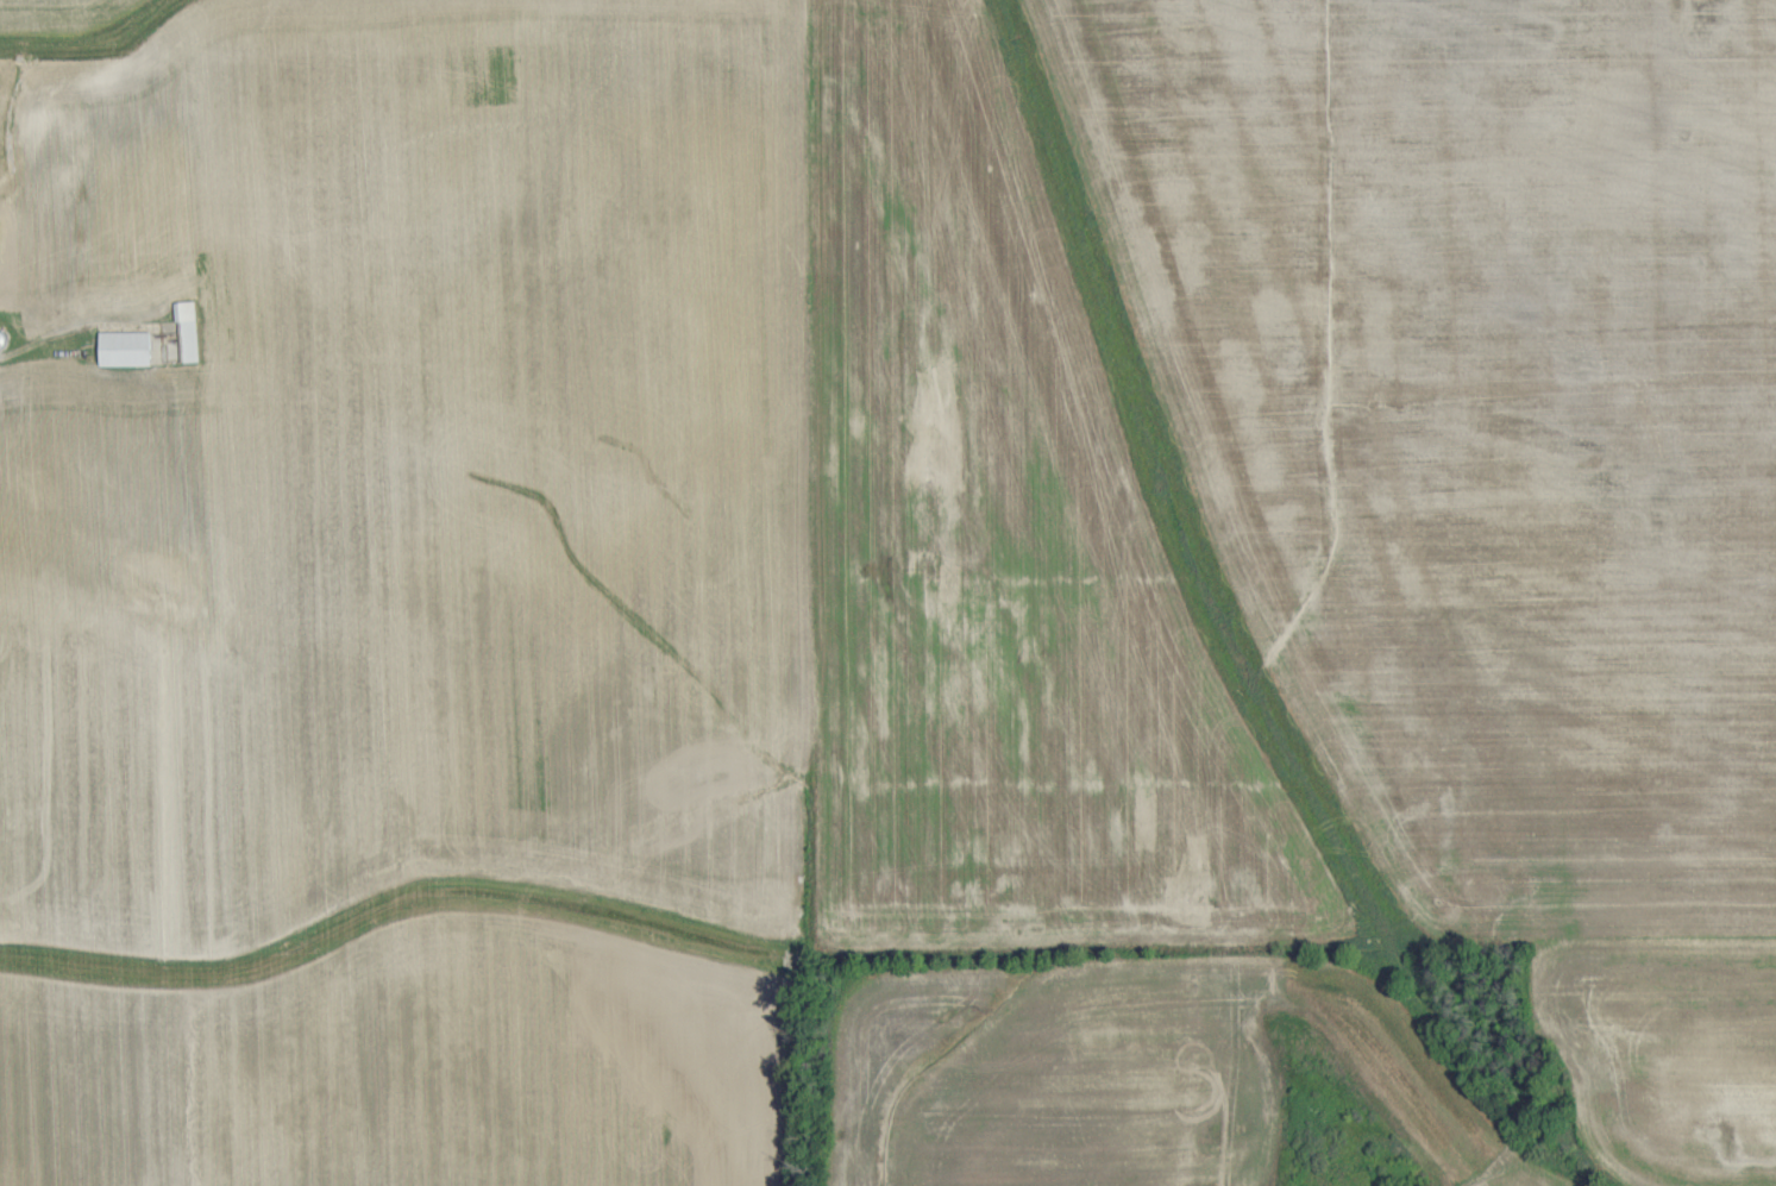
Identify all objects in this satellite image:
building: (131, 346)

